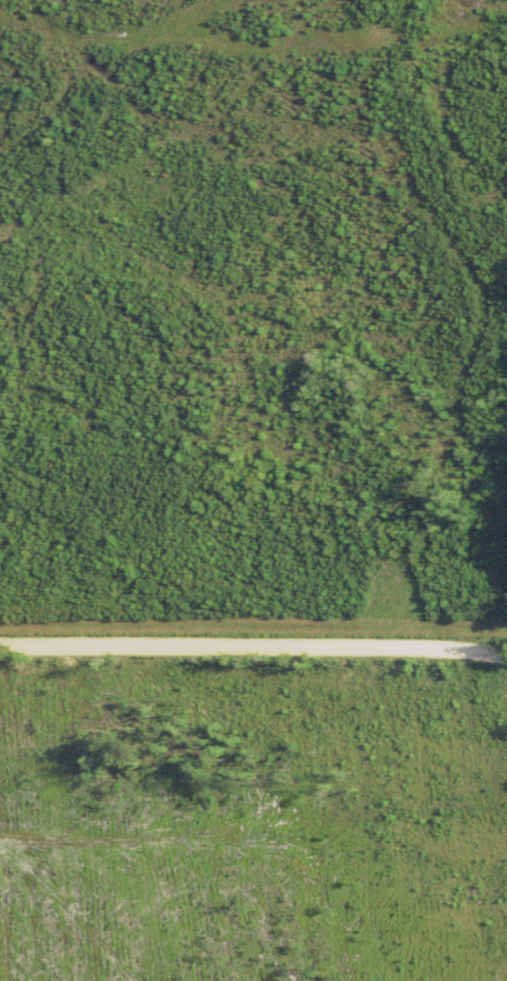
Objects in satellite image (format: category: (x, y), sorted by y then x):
road: (253, 647)

